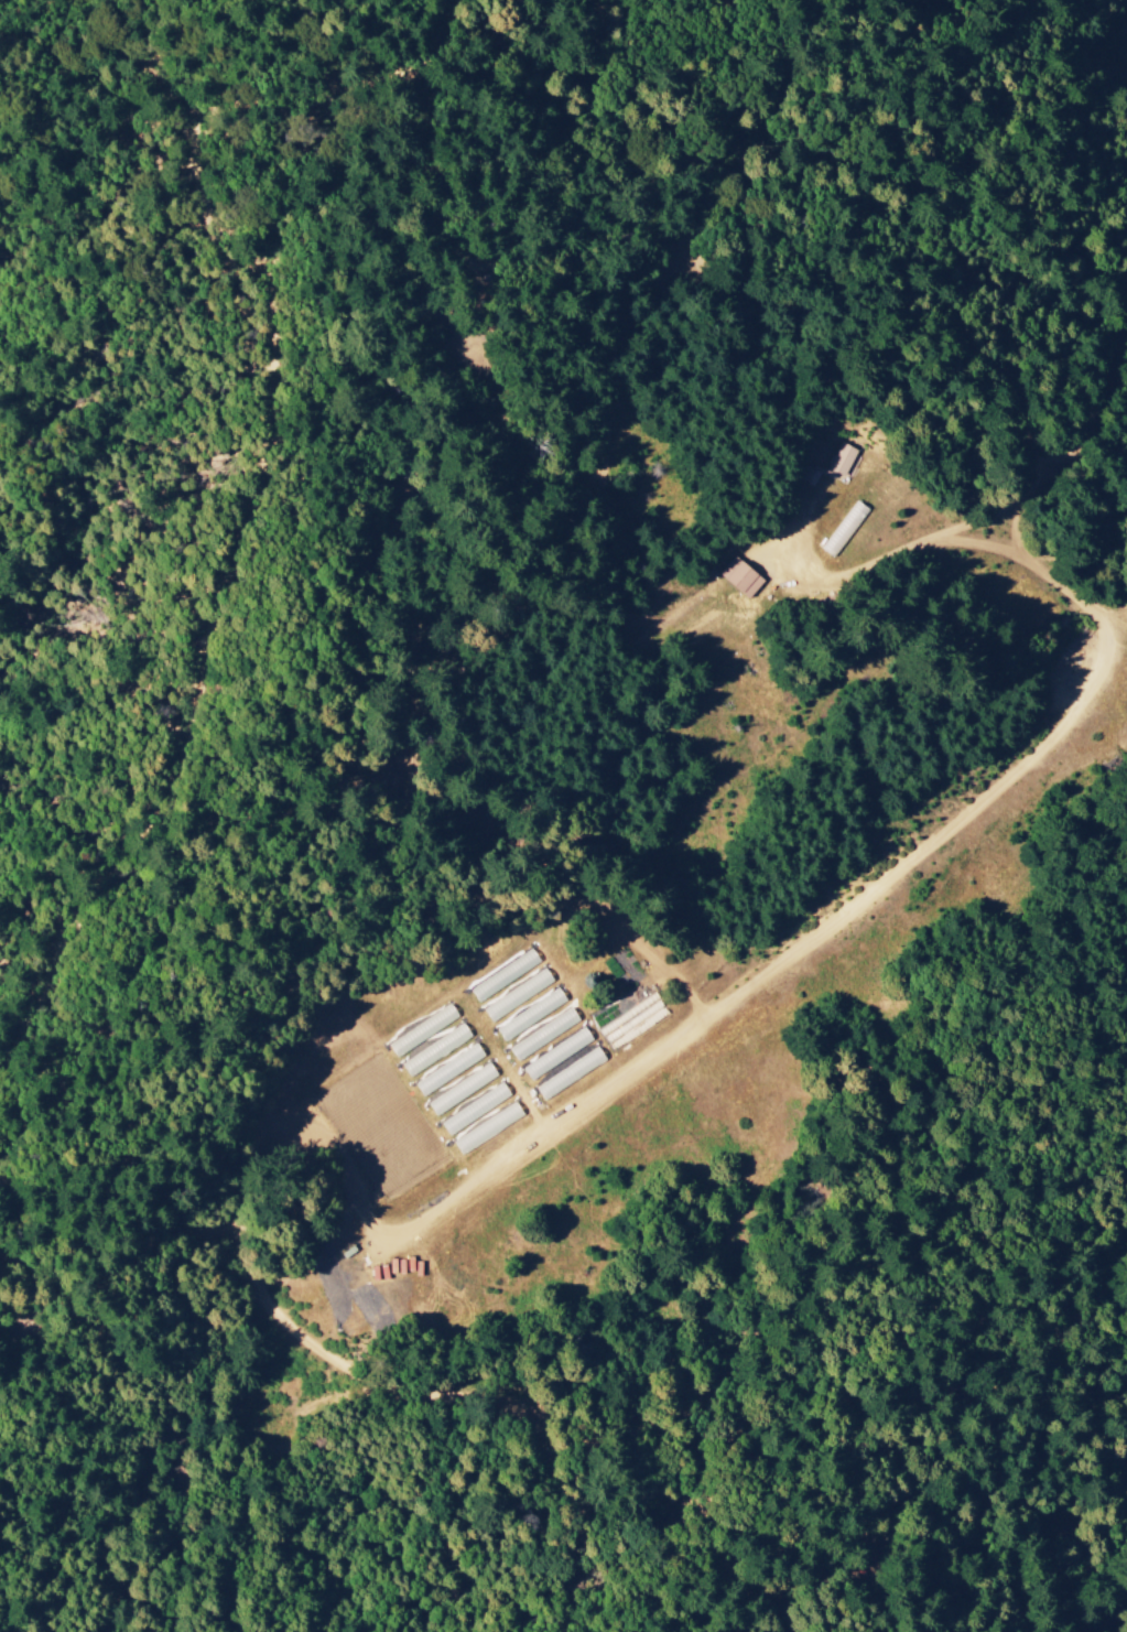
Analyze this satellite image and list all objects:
road: (752, 333)
road: (484, 395)
building: (834, 461)
road: (245, 526)
building: (844, 529)
building: (740, 579)
road: (646, 806)
airport runway: (738, 977)
building: (531, 1015)
building: (543, 1035)
building: (556, 1055)
building: (448, 1070)
building: (475, 1110)
building: (487, 1128)

